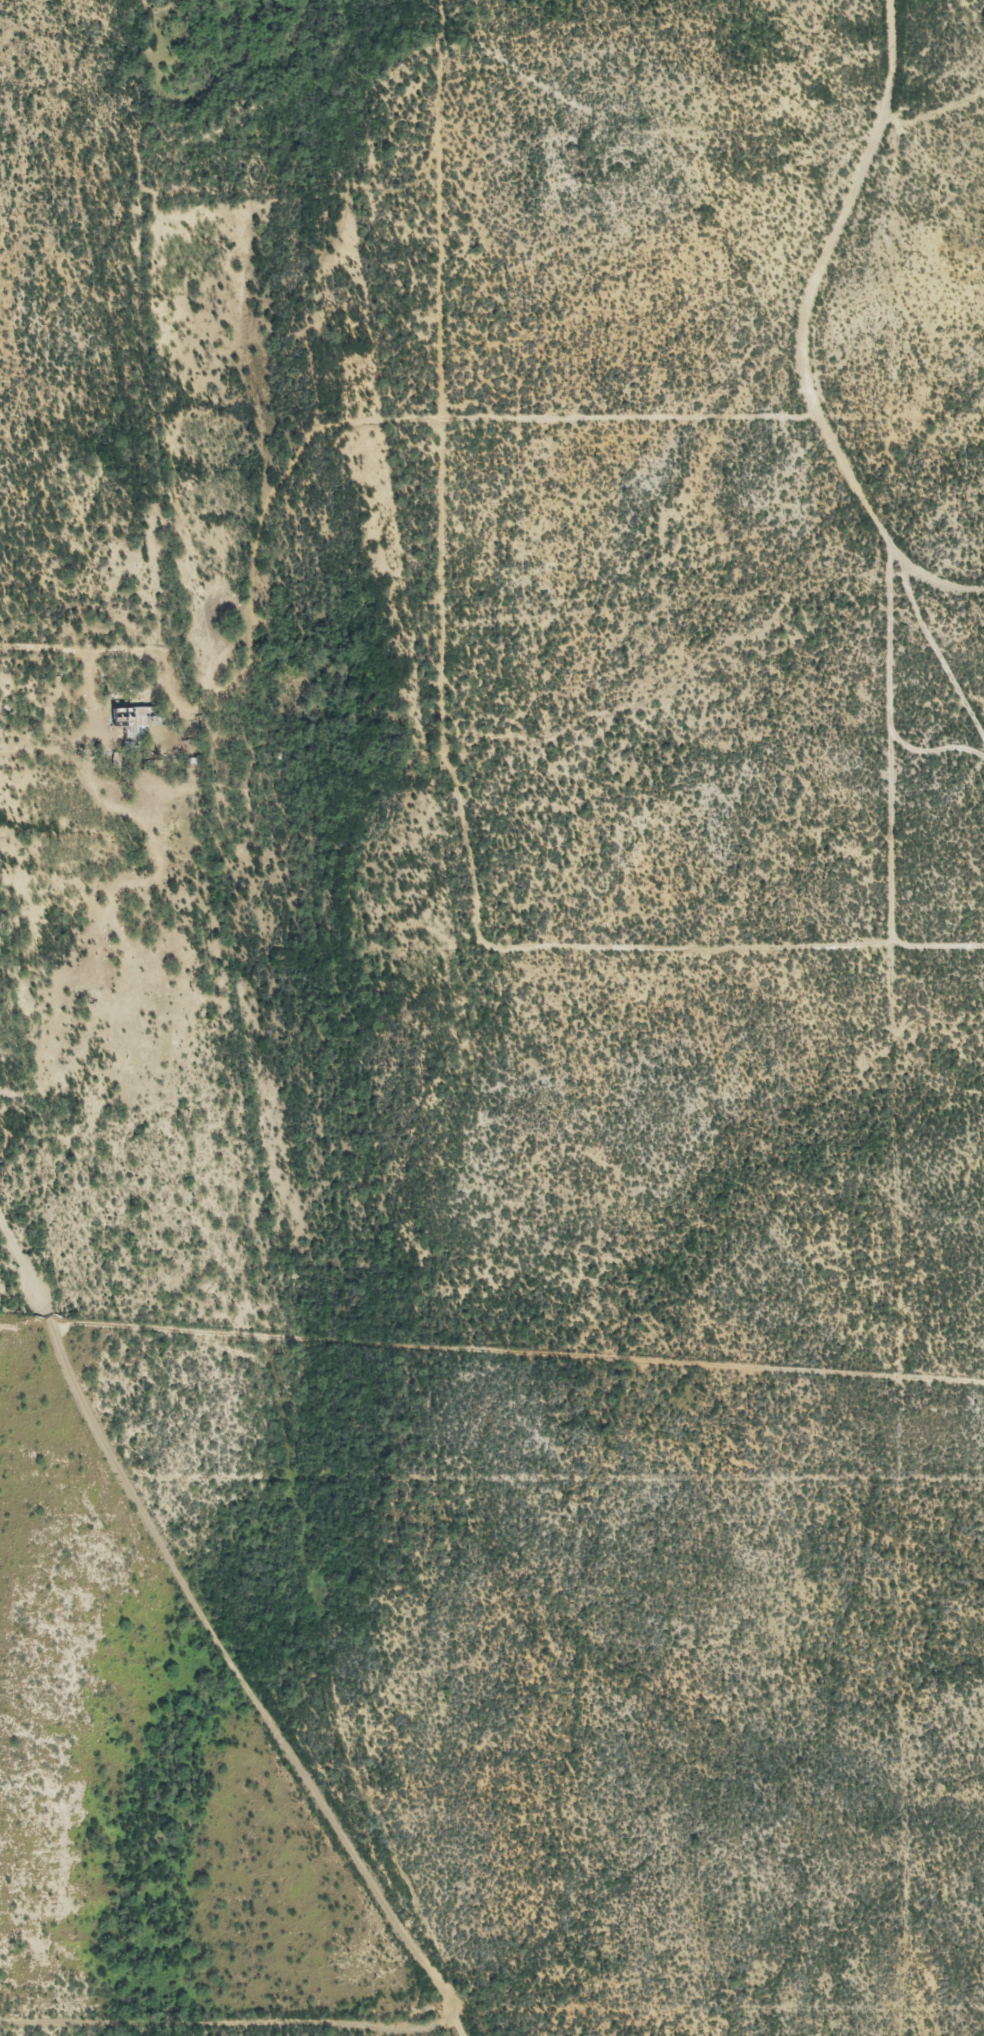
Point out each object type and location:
road: (215, 1641)

